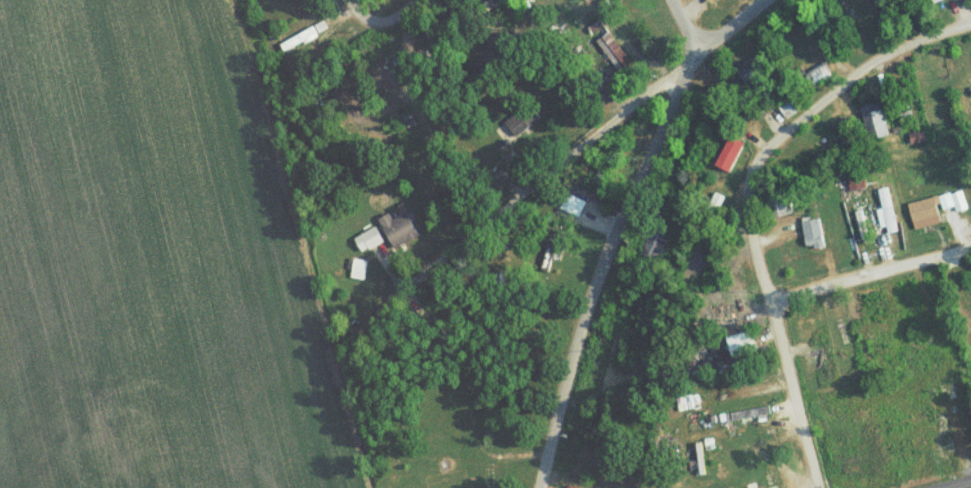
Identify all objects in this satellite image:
road: (406, 8)
road: (682, 26)
road: (426, 73)
road: (849, 80)
road: (627, 107)
crop: (153, 262)
road: (601, 265)
road: (869, 277)
road: (774, 330)
road: (960, 485)
crop: (969, 487)

